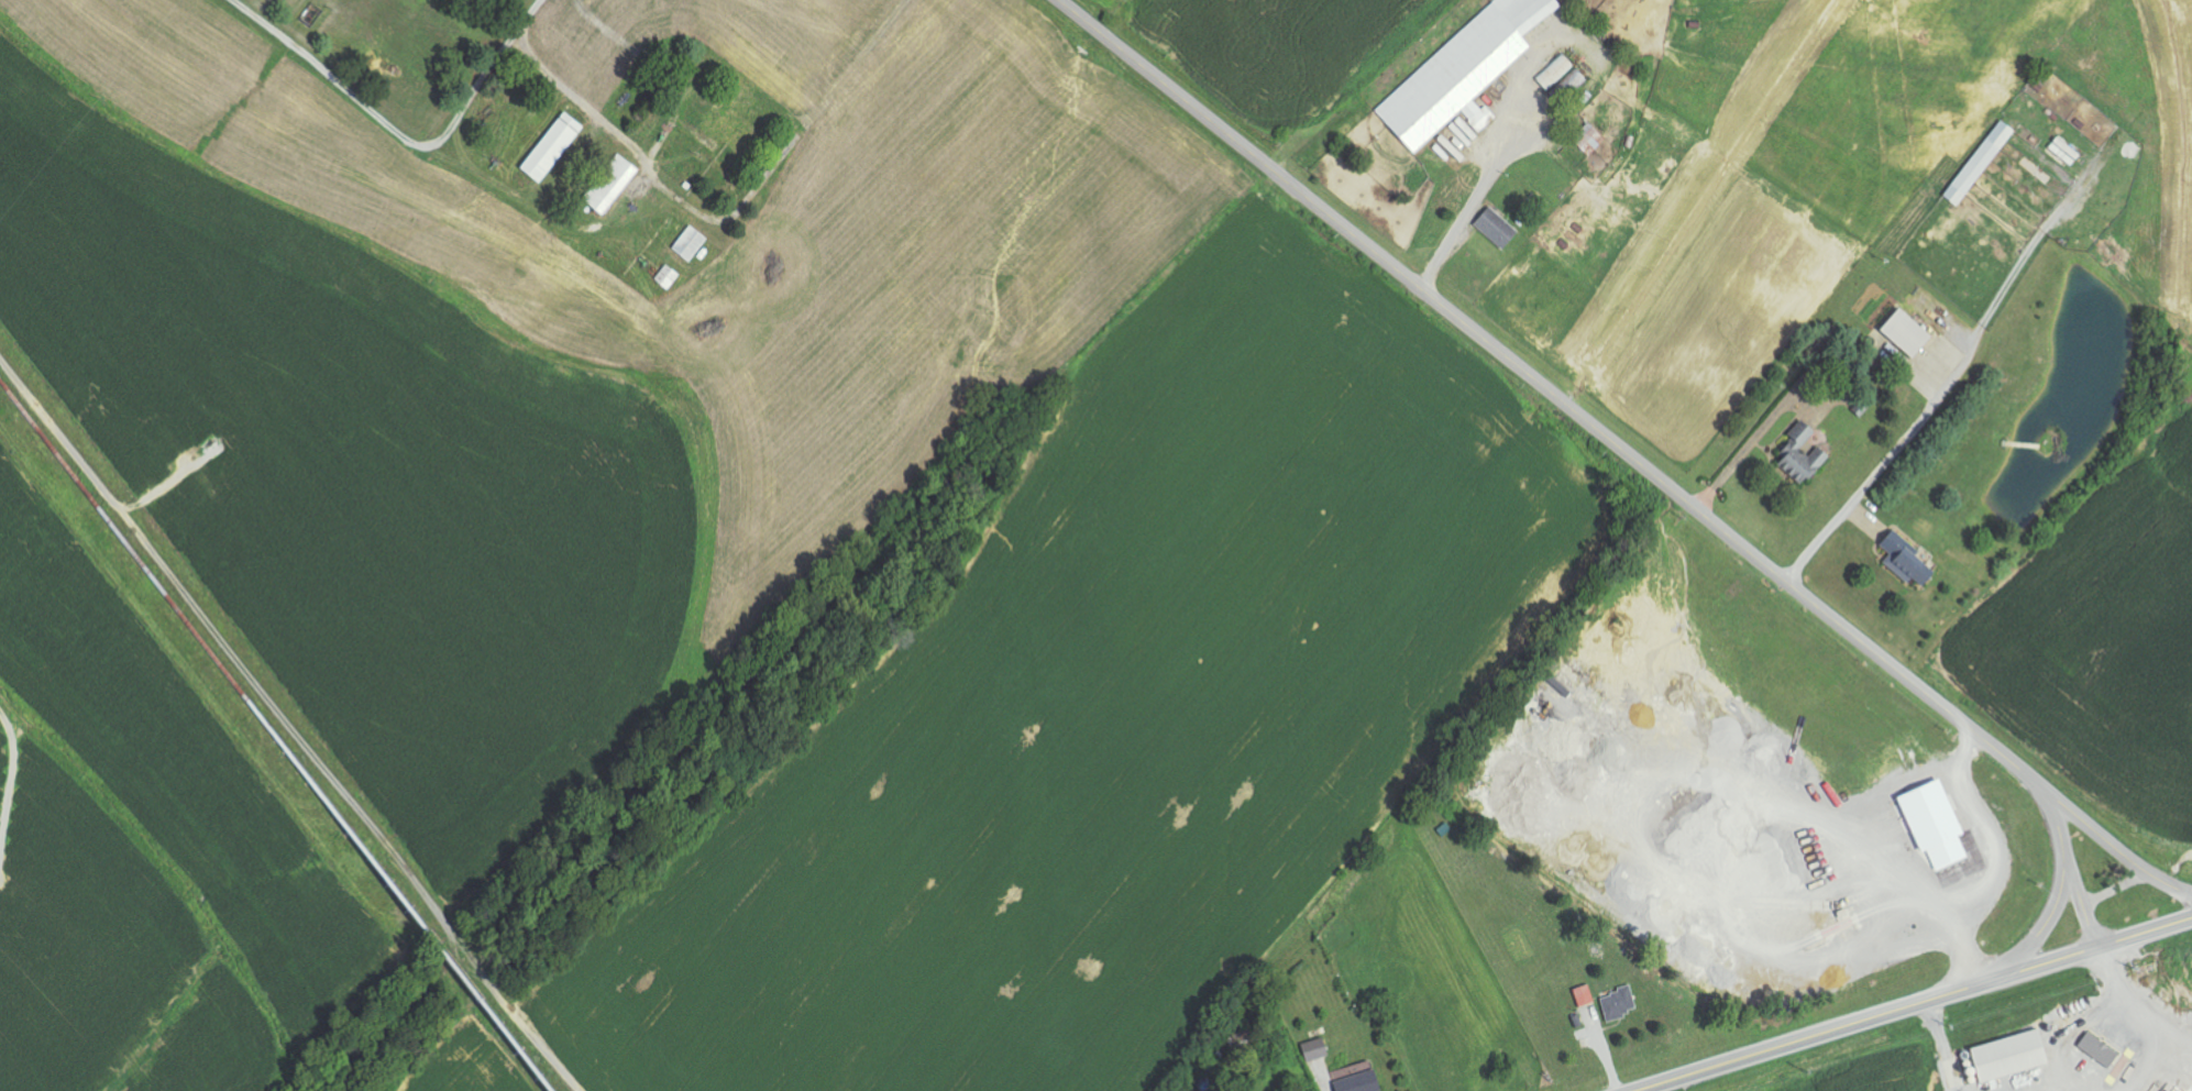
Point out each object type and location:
building: (1464, 73)
building: (1563, 80)
road: (804, 133)
building: (1589, 140)
building: (553, 147)
building: (2064, 152)
building: (1980, 163)
building: (612, 185)
road: (1468, 212)
building: (1497, 229)
building: (691, 244)
building: (668, 277)
building: (1907, 332)
road: (1622, 451)
building: (1803, 455)
road: (1874, 475)
building: (1907, 562)
building: (1937, 824)
road: (2070, 868)
road: (2047, 921)
building: (1584, 995)
building: (1619, 1004)
road: (1914, 1004)
road: (2134, 1006)
building: (1315, 1049)
building: (2100, 1049)
building: (2012, 1056)
building: (2174, 1090)

